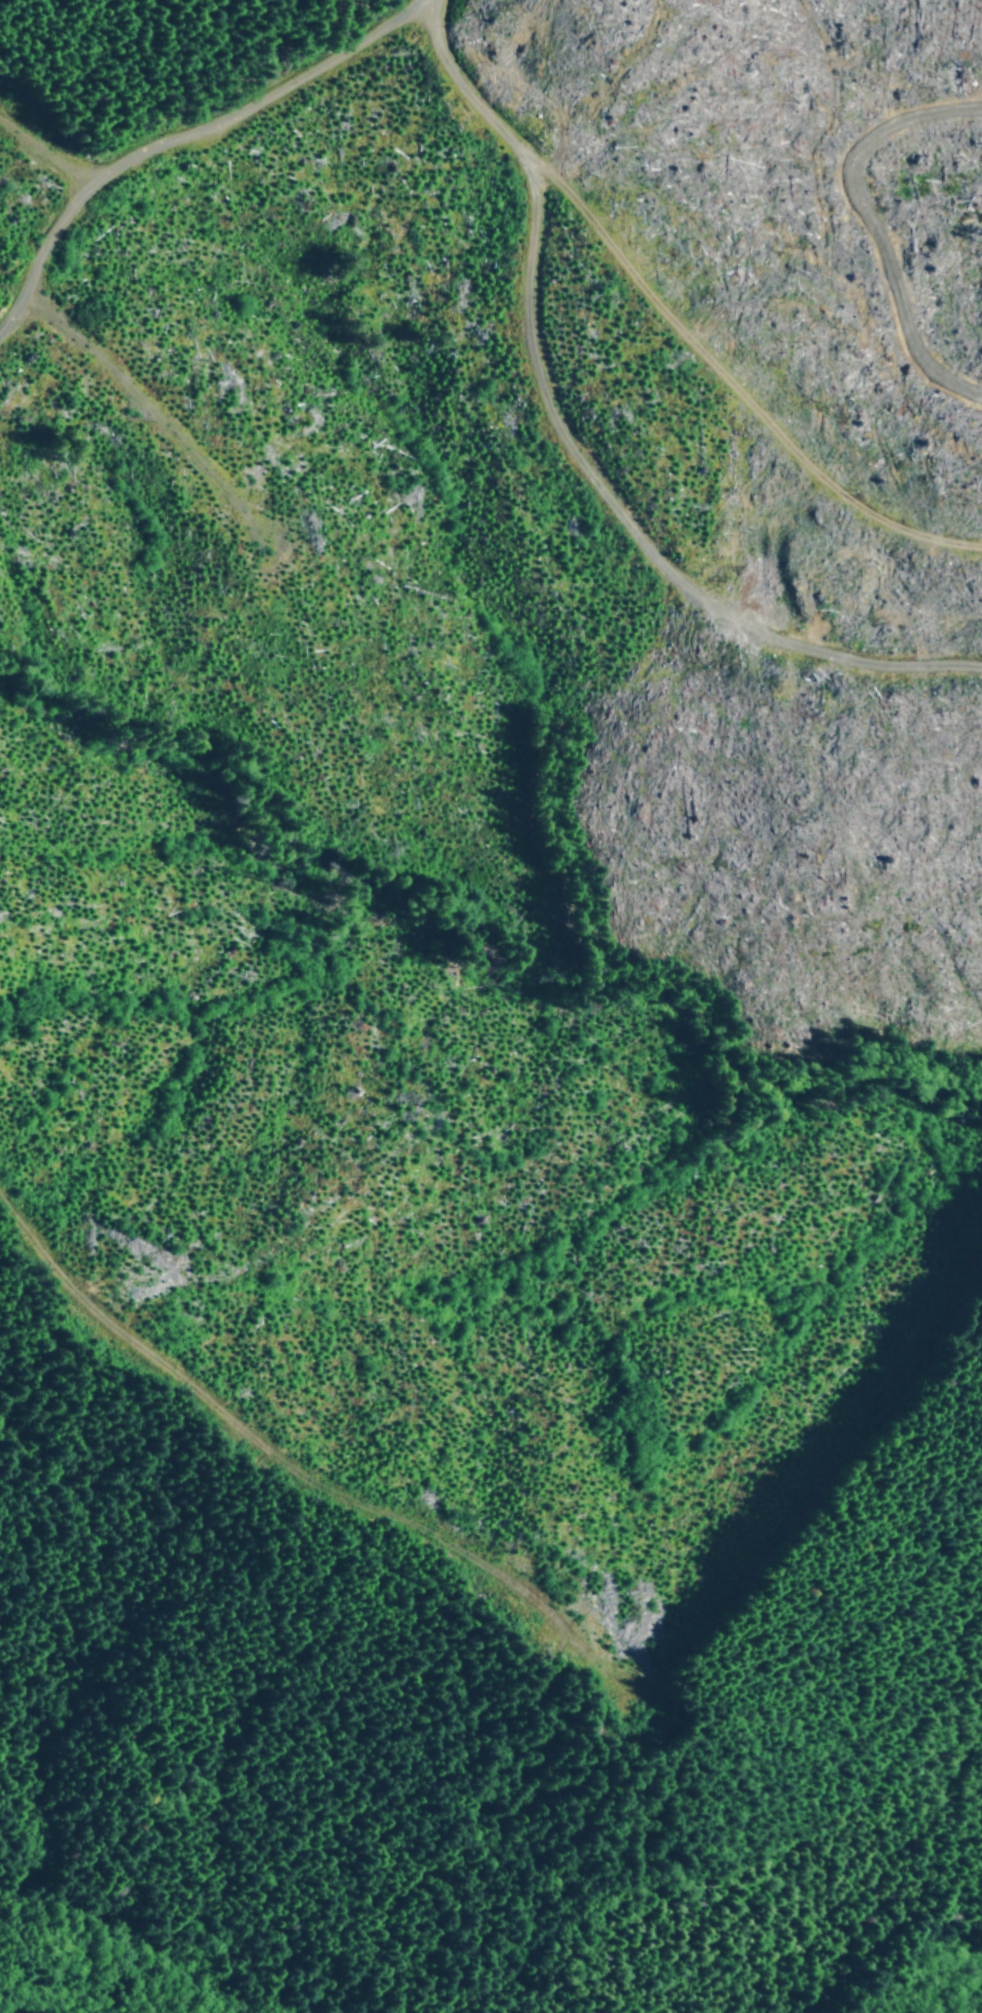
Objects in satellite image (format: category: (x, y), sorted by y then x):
road: (180, 138)
road: (730, 376)
road: (567, 453)
road: (298, 1462)
road: (49, 1830)

